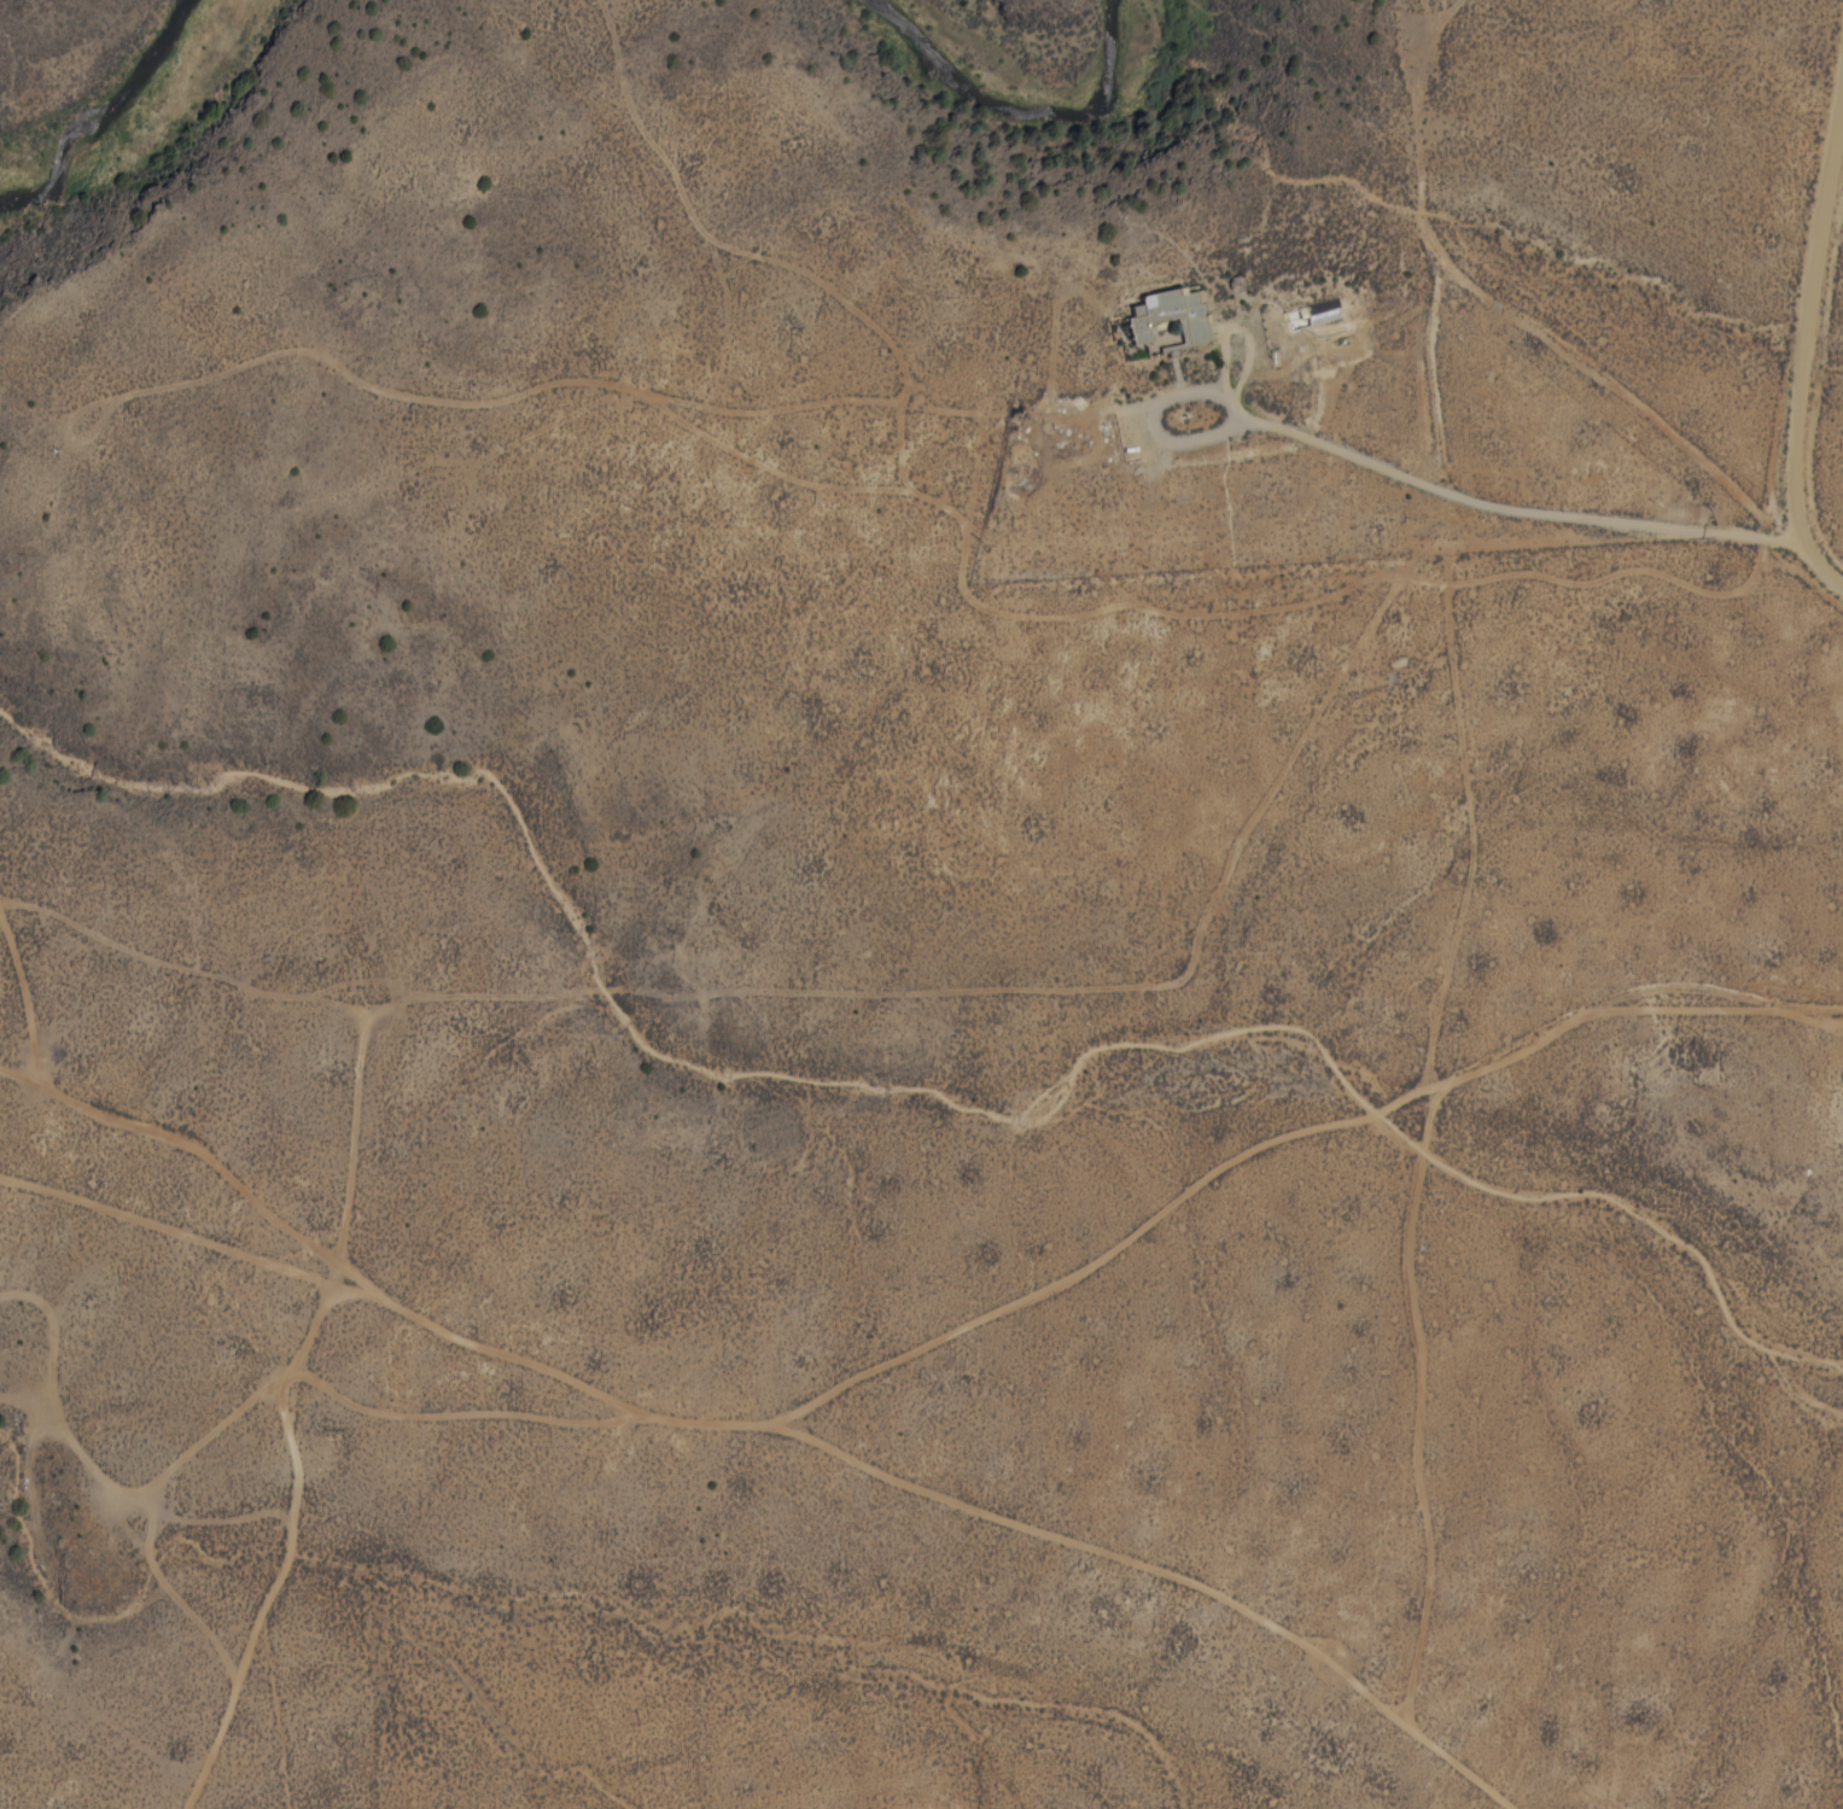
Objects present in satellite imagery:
road: (1803, 331)

